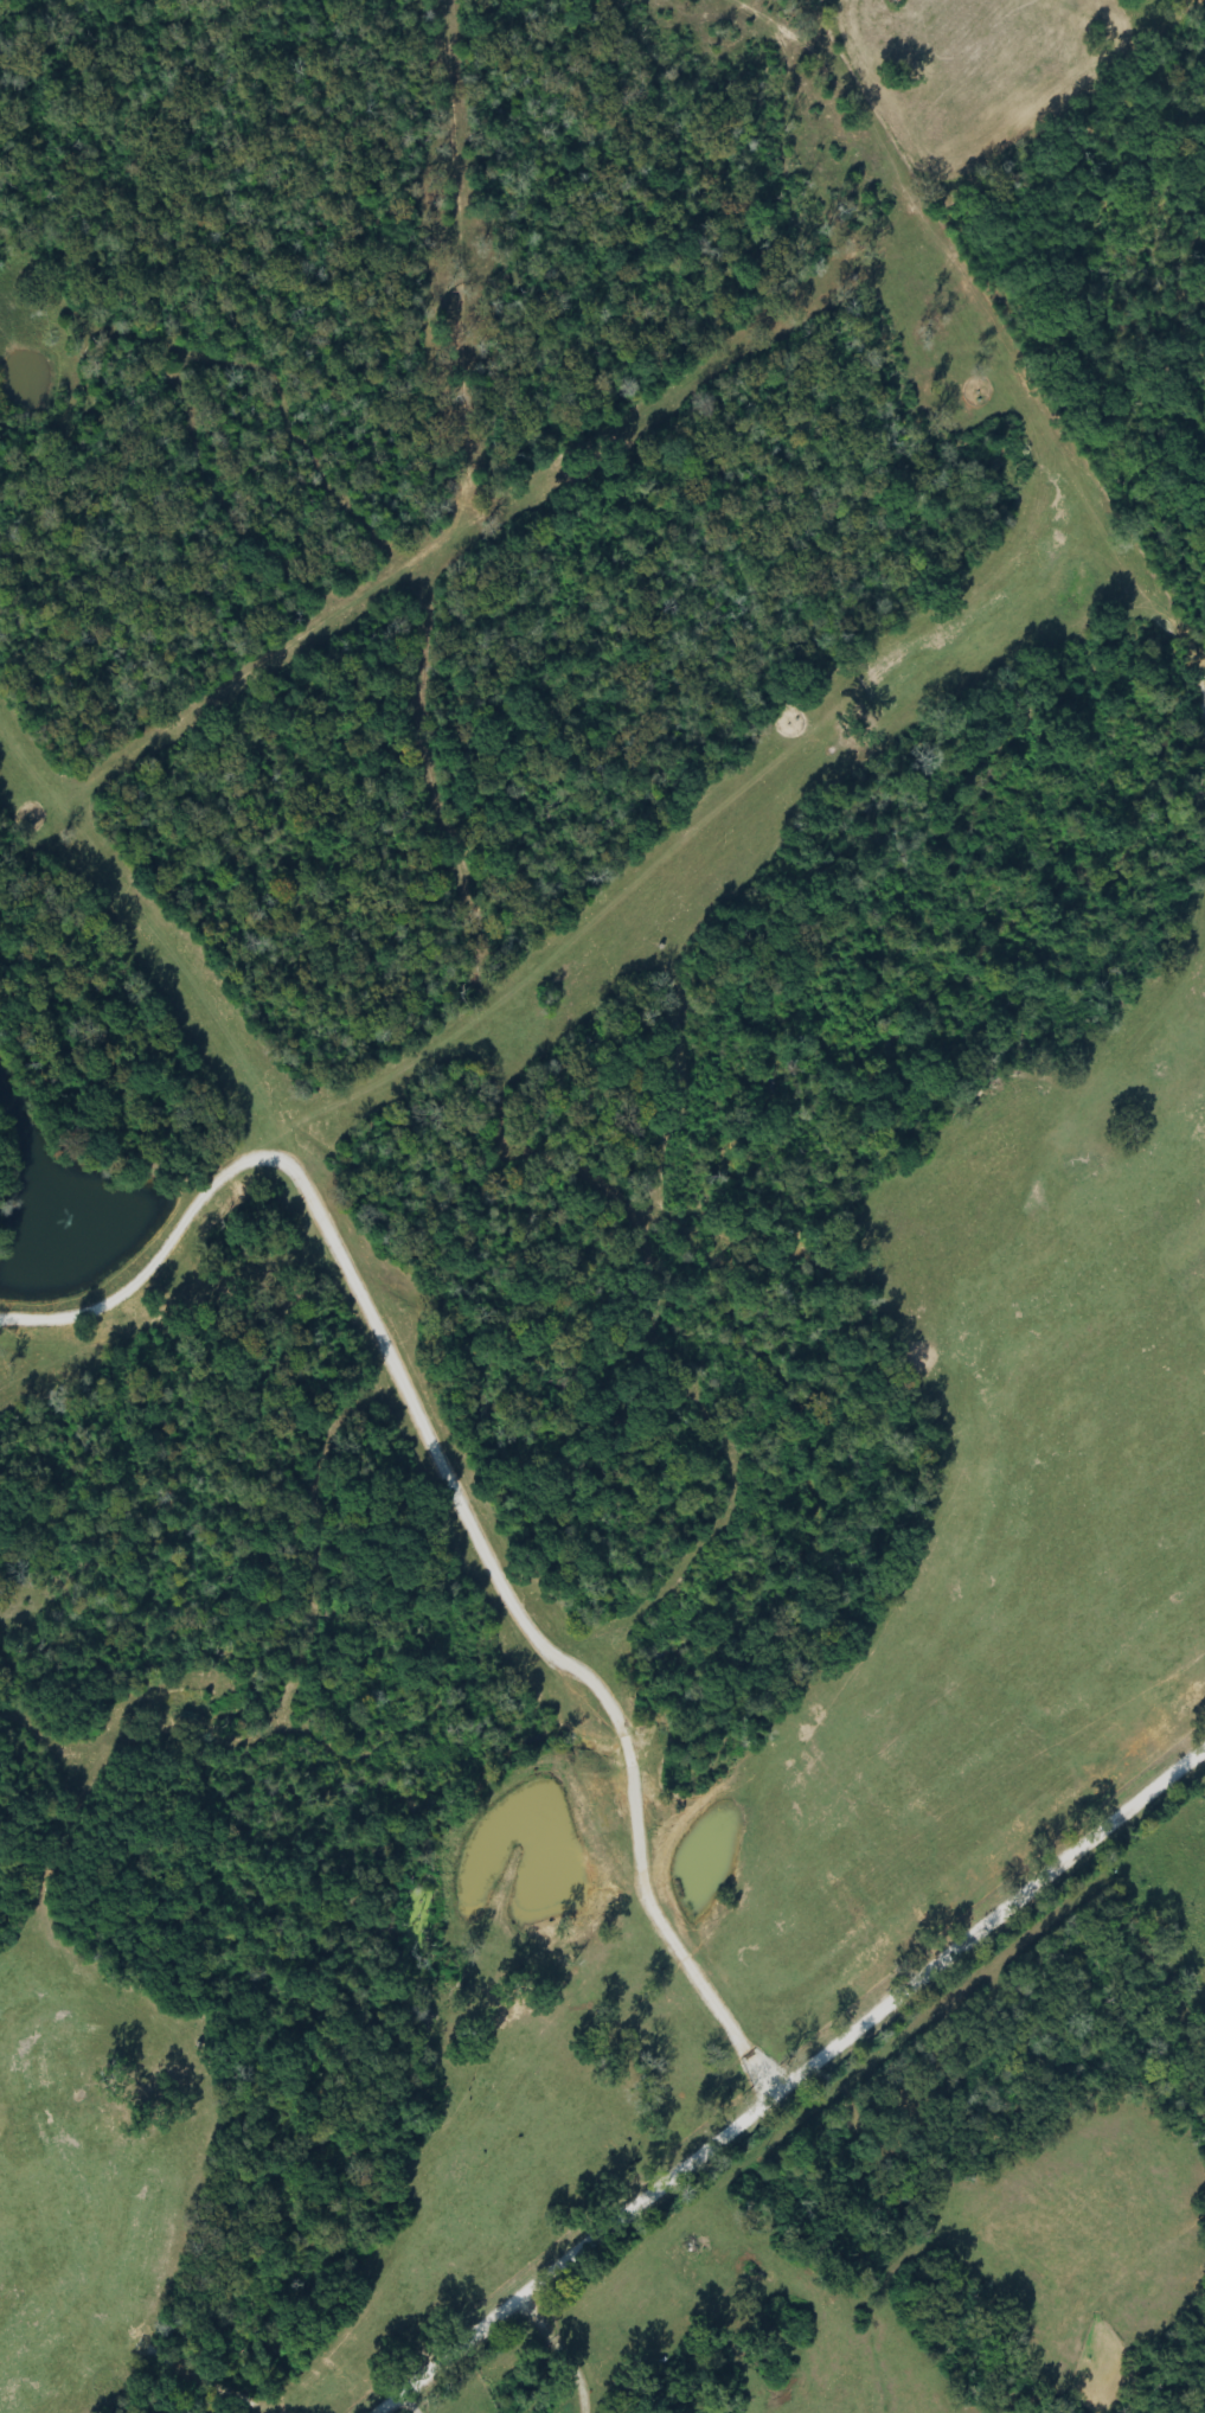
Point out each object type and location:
road: (495, 1029)
road: (64, 1910)
road: (794, 2087)

